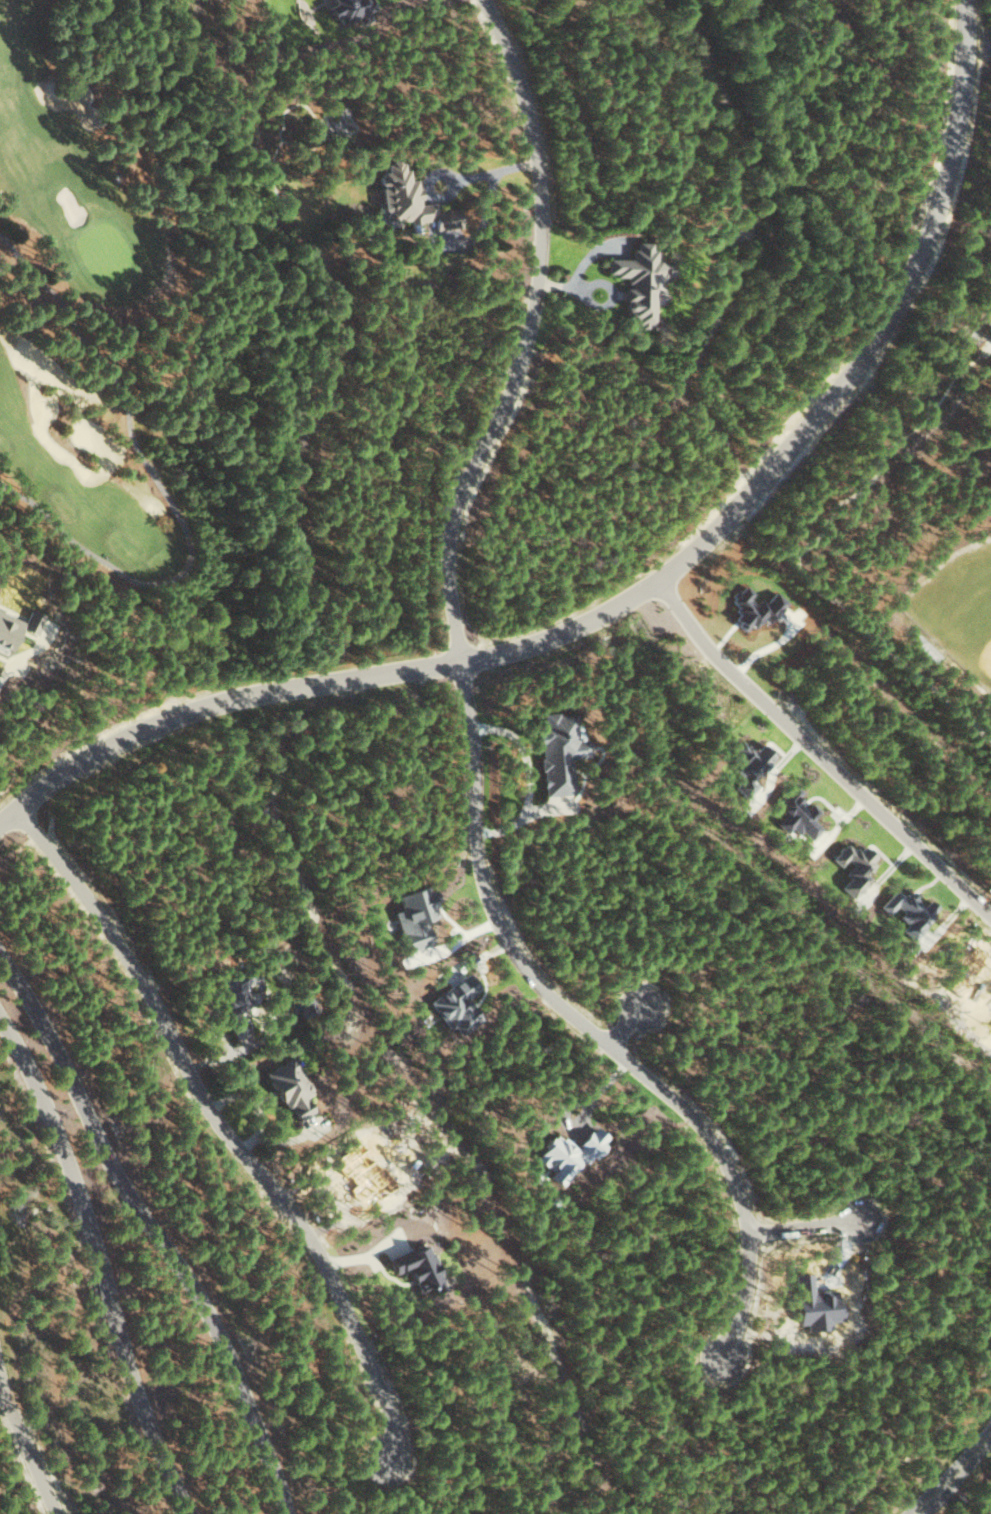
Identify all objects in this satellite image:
building: (352, 10)
road: (490, 173)
building: (410, 200)
building: (638, 281)
road: (531, 331)
park: (90, 333)
road: (826, 413)
road: (808, 550)
park: (958, 606)
building: (17, 627)
road: (218, 705)
road: (820, 750)
building: (558, 752)
building: (750, 766)
building: (856, 868)
building: (911, 911)
building: (416, 918)
building: (457, 1004)
building: (236, 1006)
road: (589, 1024)
road: (630, 1024)
building: (290, 1089)
road: (232, 1125)
building: (570, 1154)
road: (161, 1221)
road: (811, 1226)
road: (106, 1256)
building: (419, 1266)
road: (23, 1423)
road: (922, 1445)
road: (956, 1474)

